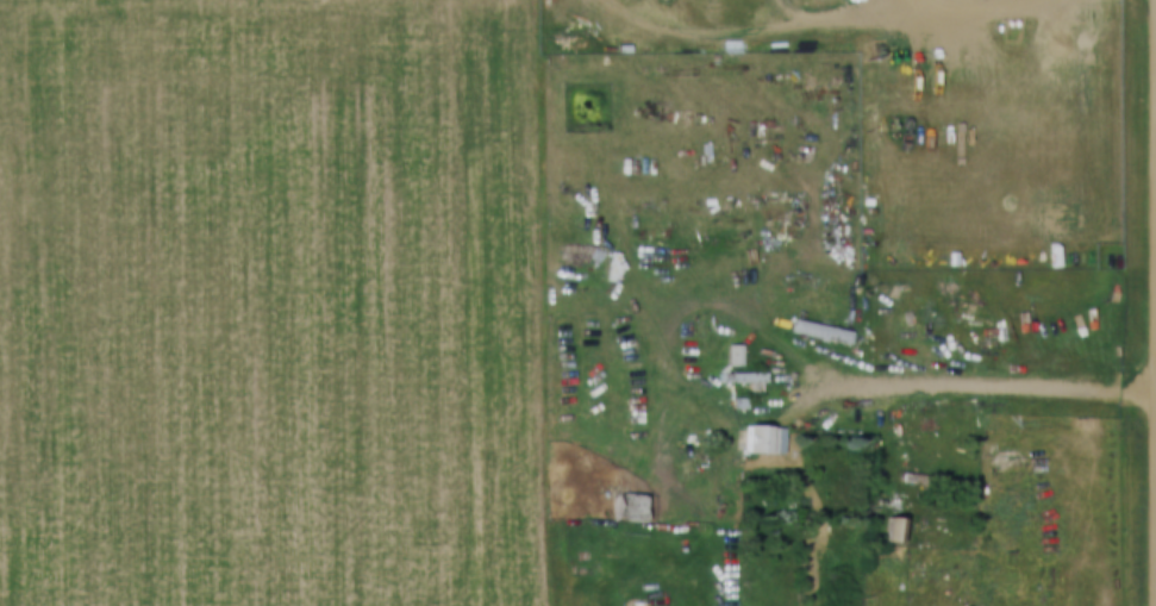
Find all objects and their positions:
road: (844, 14)
road: (560, 302)
building: (818, 302)
building: (820, 326)
building: (733, 350)
building: (745, 375)
road: (973, 382)
building: (738, 398)
building: (763, 433)
building: (912, 473)
building: (627, 502)
building: (896, 524)

